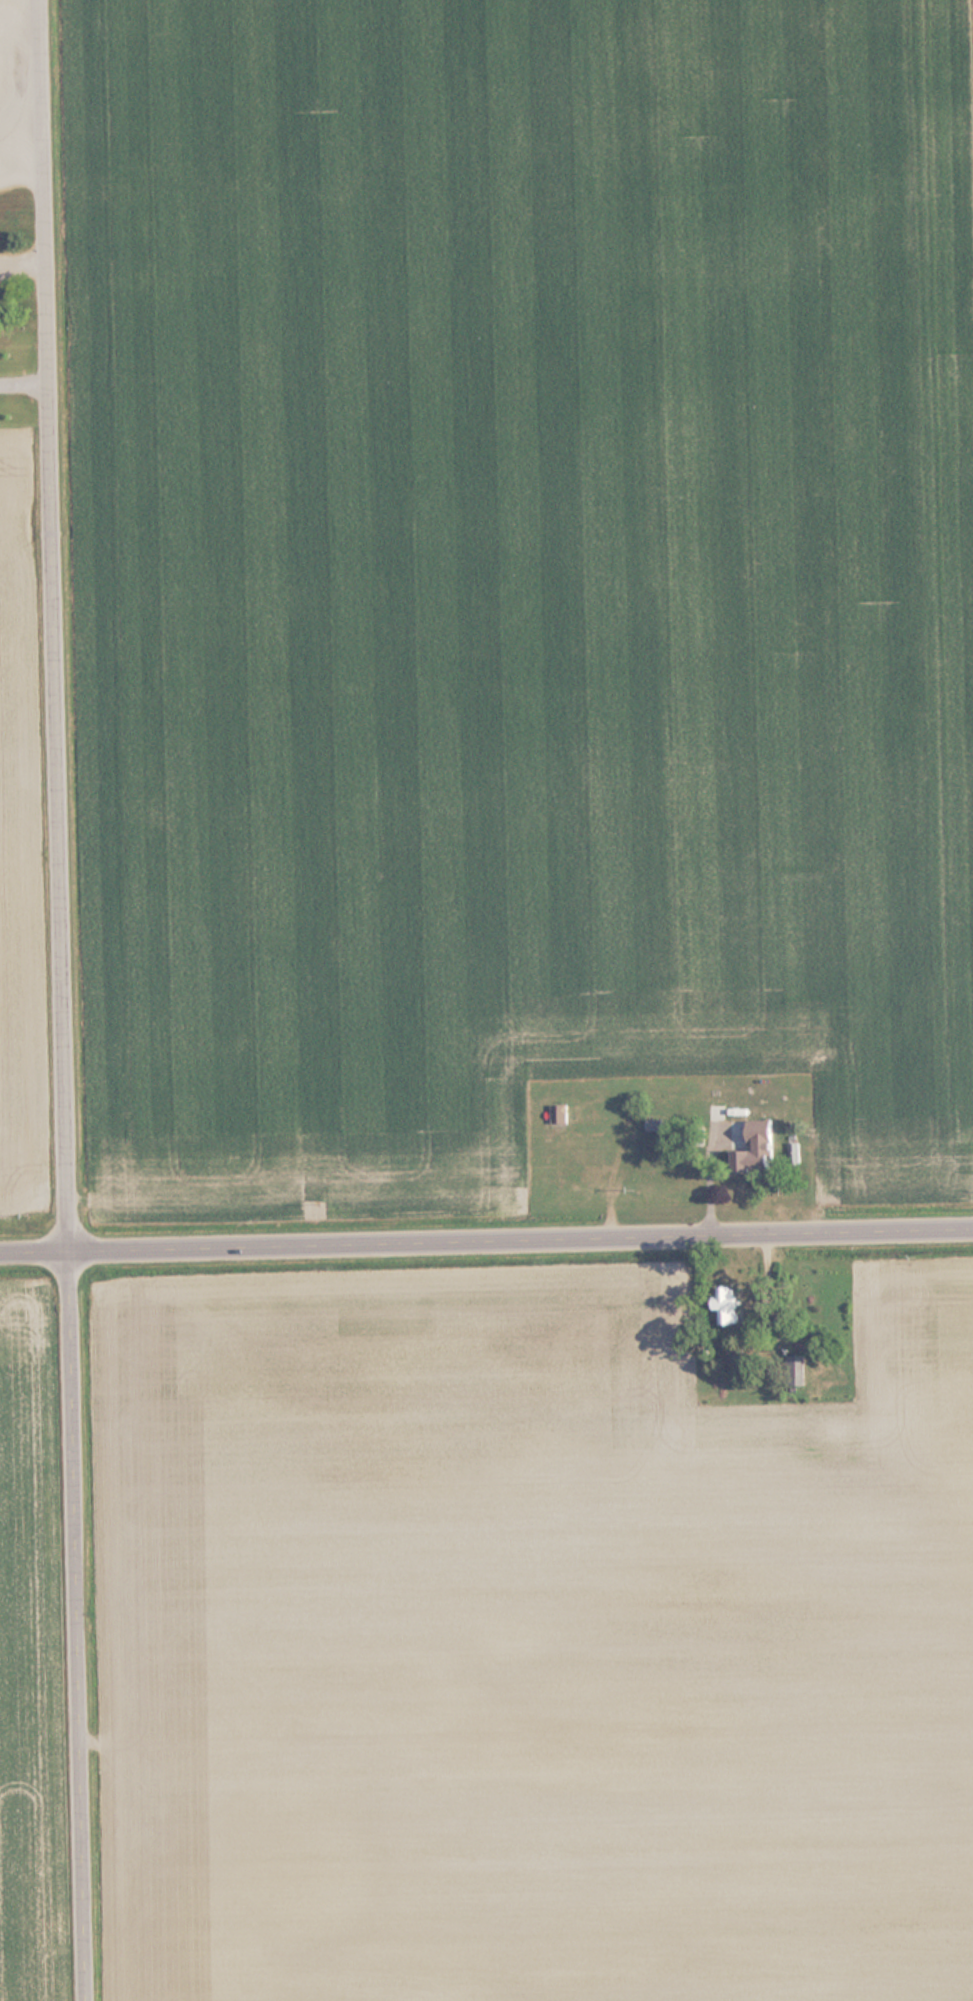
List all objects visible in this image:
building: (4, 109)
road: (69, 1000)
building: (715, 1113)
building: (595, 1118)
building: (757, 1155)
road: (486, 1238)
building: (728, 1306)
building: (734, 1355)
building: (796, 1370)
building: (836, 1435)

